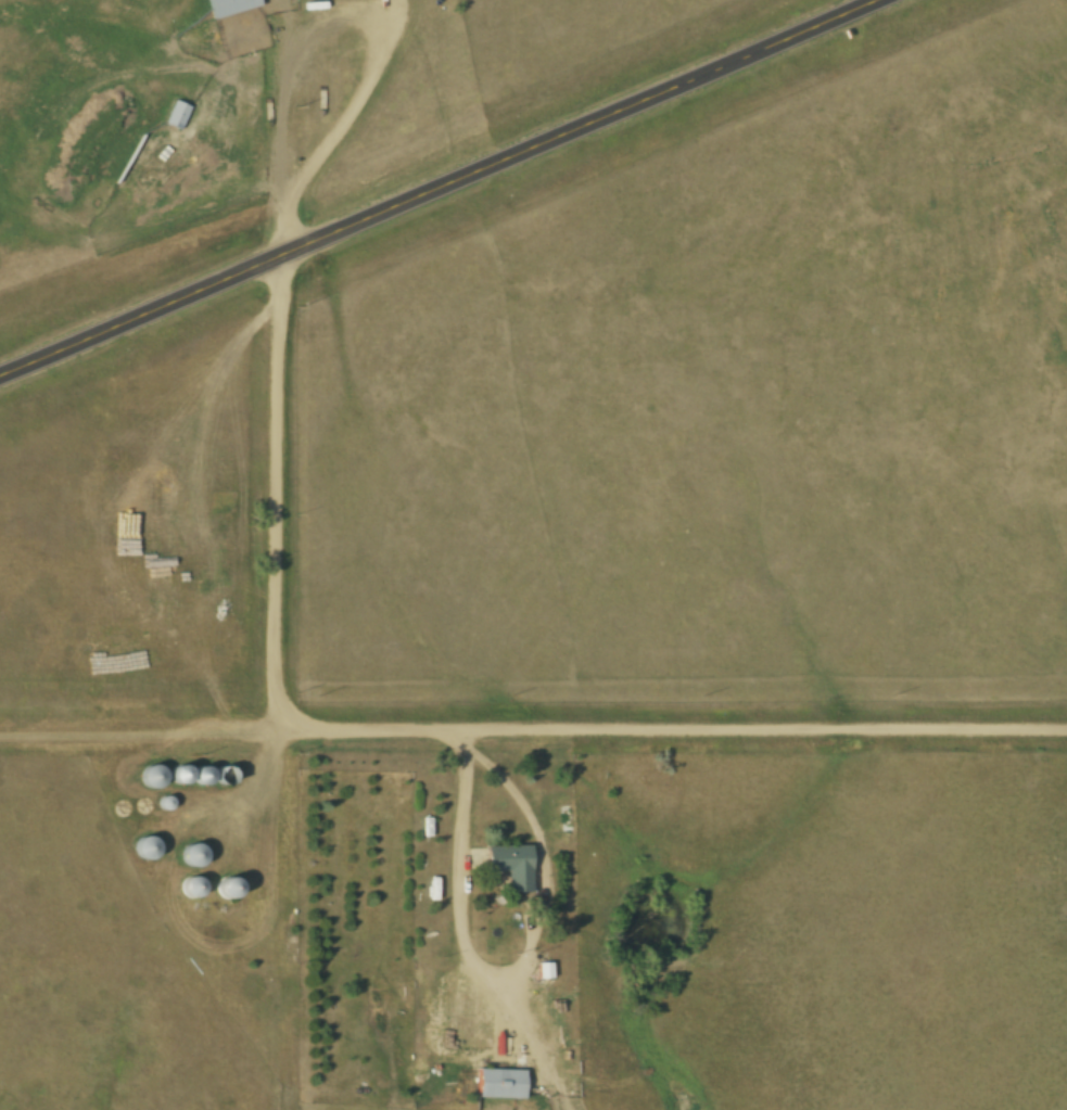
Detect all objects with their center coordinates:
building: (229, 5)
building: (176, 114)
road: (282, 126)
road: (439, 188)
road: (143, 723)
road: (444, 728)
road: (453, 737)
building: (179, 774)
building: (151, 776)
building: (200, 776)
building: (145, 847)
building: (192, 855)
building: (509, 866)
building: (190, 888)
building: (226, 888)
road: (478, 960)
building: (498, 1083)

